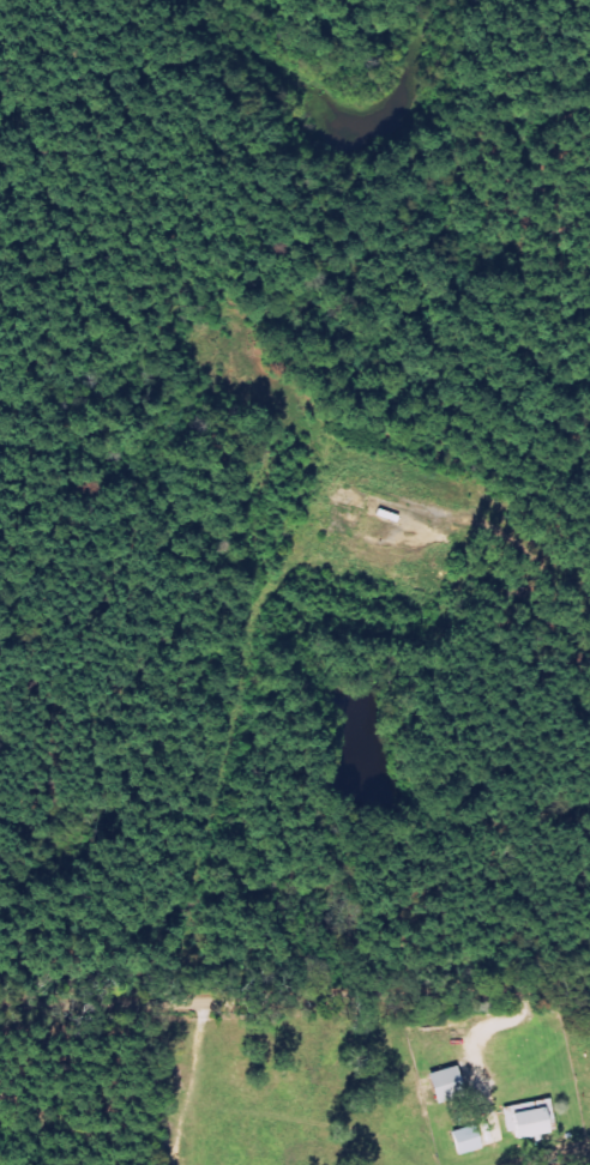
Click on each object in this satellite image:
road: (295, 997)
building: (457, 1085)
building: (537, 1121)
building: (475, 1140)

